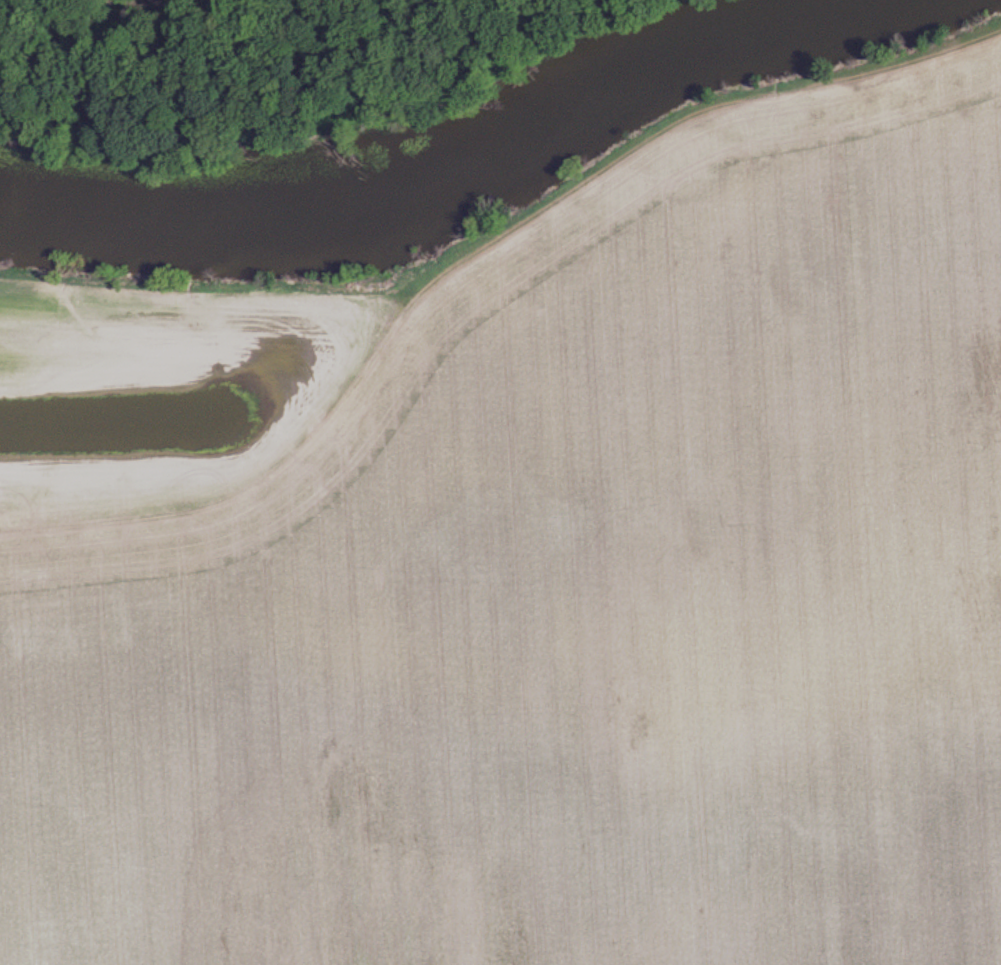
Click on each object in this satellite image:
river: (447, 180)

